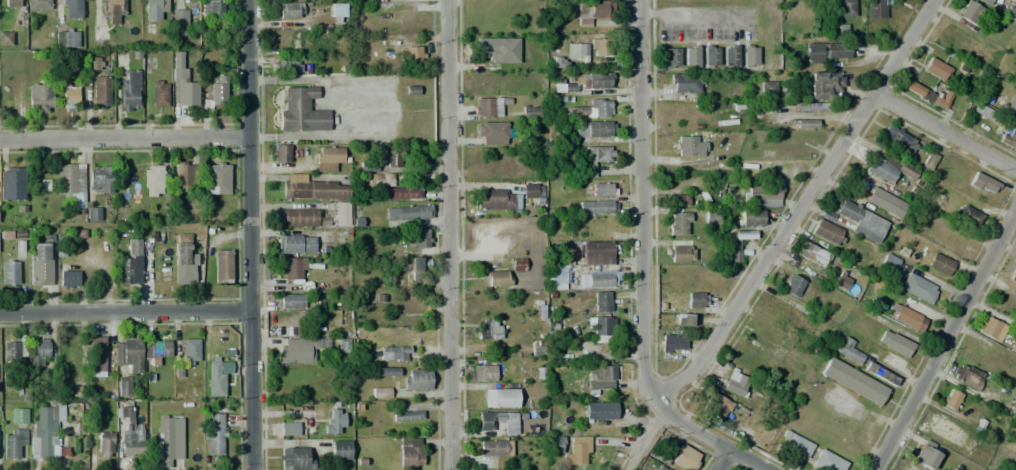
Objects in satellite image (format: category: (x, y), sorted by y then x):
building: (1013, 0)
building: (987, 2)
building: (11, 3)
building: (37, 5)
building: (153, 8)
building: (845, 8)
building: (71, 9)
building: (875, 9)
building: (291, 10)
building: (337, 10)
building: (592, 11)
building: (113, 12)
building: (214, 12)
building: (972, 13)
building: (179, 21)
building: (5, 38)
building: (65, 38)
building: (598, 47)
building: (500, 49)
building: (580, 51)
building: (828, 52)
building: (411, 55)
building: (690, 55)
building: (710, 55)
building: (749, 55)
building: (730, 56)
building: (671, 57)
building: (93, 63)
building: (287, 66)
building: (935, 69)
building: (181, 83)
building: (686, 83)
building: (586, 84)
building: (824, 84)
building: (101, 90)
building: (767, 90)
building: (129, 91)
building: (218, 91)
building: (69, 92)
building: (159, 93)
building: (930, 94)
building: (40, 98)
building: (1012, 102)
building: (490, 106)
building: (812, 107)
building: (599, 108)
building: (302, 110)
building: (530, 111)
building: (986, 113)
building: (1014, 116)
building: (806, 124)
road: (945, 128)
building: (594, 129)
building: (494, 132)
road: (123, 138)
building: (1009, 138)
building: (898, 140)
building: (690, 147)
building: (280, 153)
building: (390, 156)
building: (327, 158)
building: (595, 158)
building: (927, 160)
building: (888, 167)
building: (185, 176)
building: (218, 178)
building: (100, 179)
building: (152, 180)
building: (374, 180)
building: (11, 183)
building: (71, 183)
building: (983, 184)
building: (312, 189)
building: (600, 189)
building: (533, 191)
building: (401, 192)
building: (761, 196)
building: (678, 198)
building: (498, 199)
building: (885, 202)
building: (597, 207)
building: (408, 213)
building: (93, 214)
building: (968, 215)
building: (315, 216)
building: (751, 217)
road: (644, 219)
building: (861, 219)
building: (678, 224)
building: (605, 228)
road: (790, 233)
building: (827, 233)
road: (248, 234)
road: (449, 235)
building: (414, 238)
building: (738, 242)
building: (295, 244)
building: (134, 247)
building: (20, 248)
building: (595, 253)
building: (680, 254)
building: (812, 254)
building: (184, 260)
building: (888, 263)
building: (40, 264)
building: (517, 264)
building: (940, 264)
building: (222, 266)
building: (292, 268)
building: (416, 268)
building: (125, 271)
building: (10, 273)
building: (1013, 275)
building: (557, 277)
building: (497, 278)
building: (68, 279)
building: (599, 279)
building: (841, 281)
building: (793, 286)
building: (918, 288)
building: (291, 300)
building: (696, 300)
building: (602, 301)
road: (124, 310)
building: (907, 317)
building: (683, 320)
building: (990, 328)
building: (489, 329)
building: (604, 329)
road: (945, 338)
building: (672, 343)
building: (894, 343)
building: (537, 347)
building: (156, 349)
building: (299, 349)
building: (13, 350)
building: (38, 350)
building: (848, 350)
building: (190, 352)
building: (128, 353)
building: (395, 354)
building: (97, 358)
building: (386, 371)
building: (480, 373)
building: (883, 375)
building: (967, 375)
building: (217, 377)
building: (601, 377)
building: (13, 380)
building: (416, 380)
building: (853, 381)
building: (734, 384)
building: (123, 388)
building: (381, 392)
building: (501, 398)
building: (950, 399)
building: (716, 406)
building: (1009, 406)
building: (123, 410)
building: (602, 410)
building: (57, 412)
building: (408, 415)
building: (18, 416)
building: (334, 421)
building: (510, 426)
building: (288, 428)
building: (44, 433)
building: (214, 434)
building: (167, 439)
building: (132, 441)
building: (13, 442)
building: (794, 443)
building: (105, 444)
building: (556, 444)
road: (723, 447)
building: (495, 448)
building: (339, 450)
building: (577, 450)
building: (410, 452)
building: (924, 455)
building: (294, 456)
building: (685, 458)
road: (723, 460)
building: (827, 461)
building: (660, 468)

